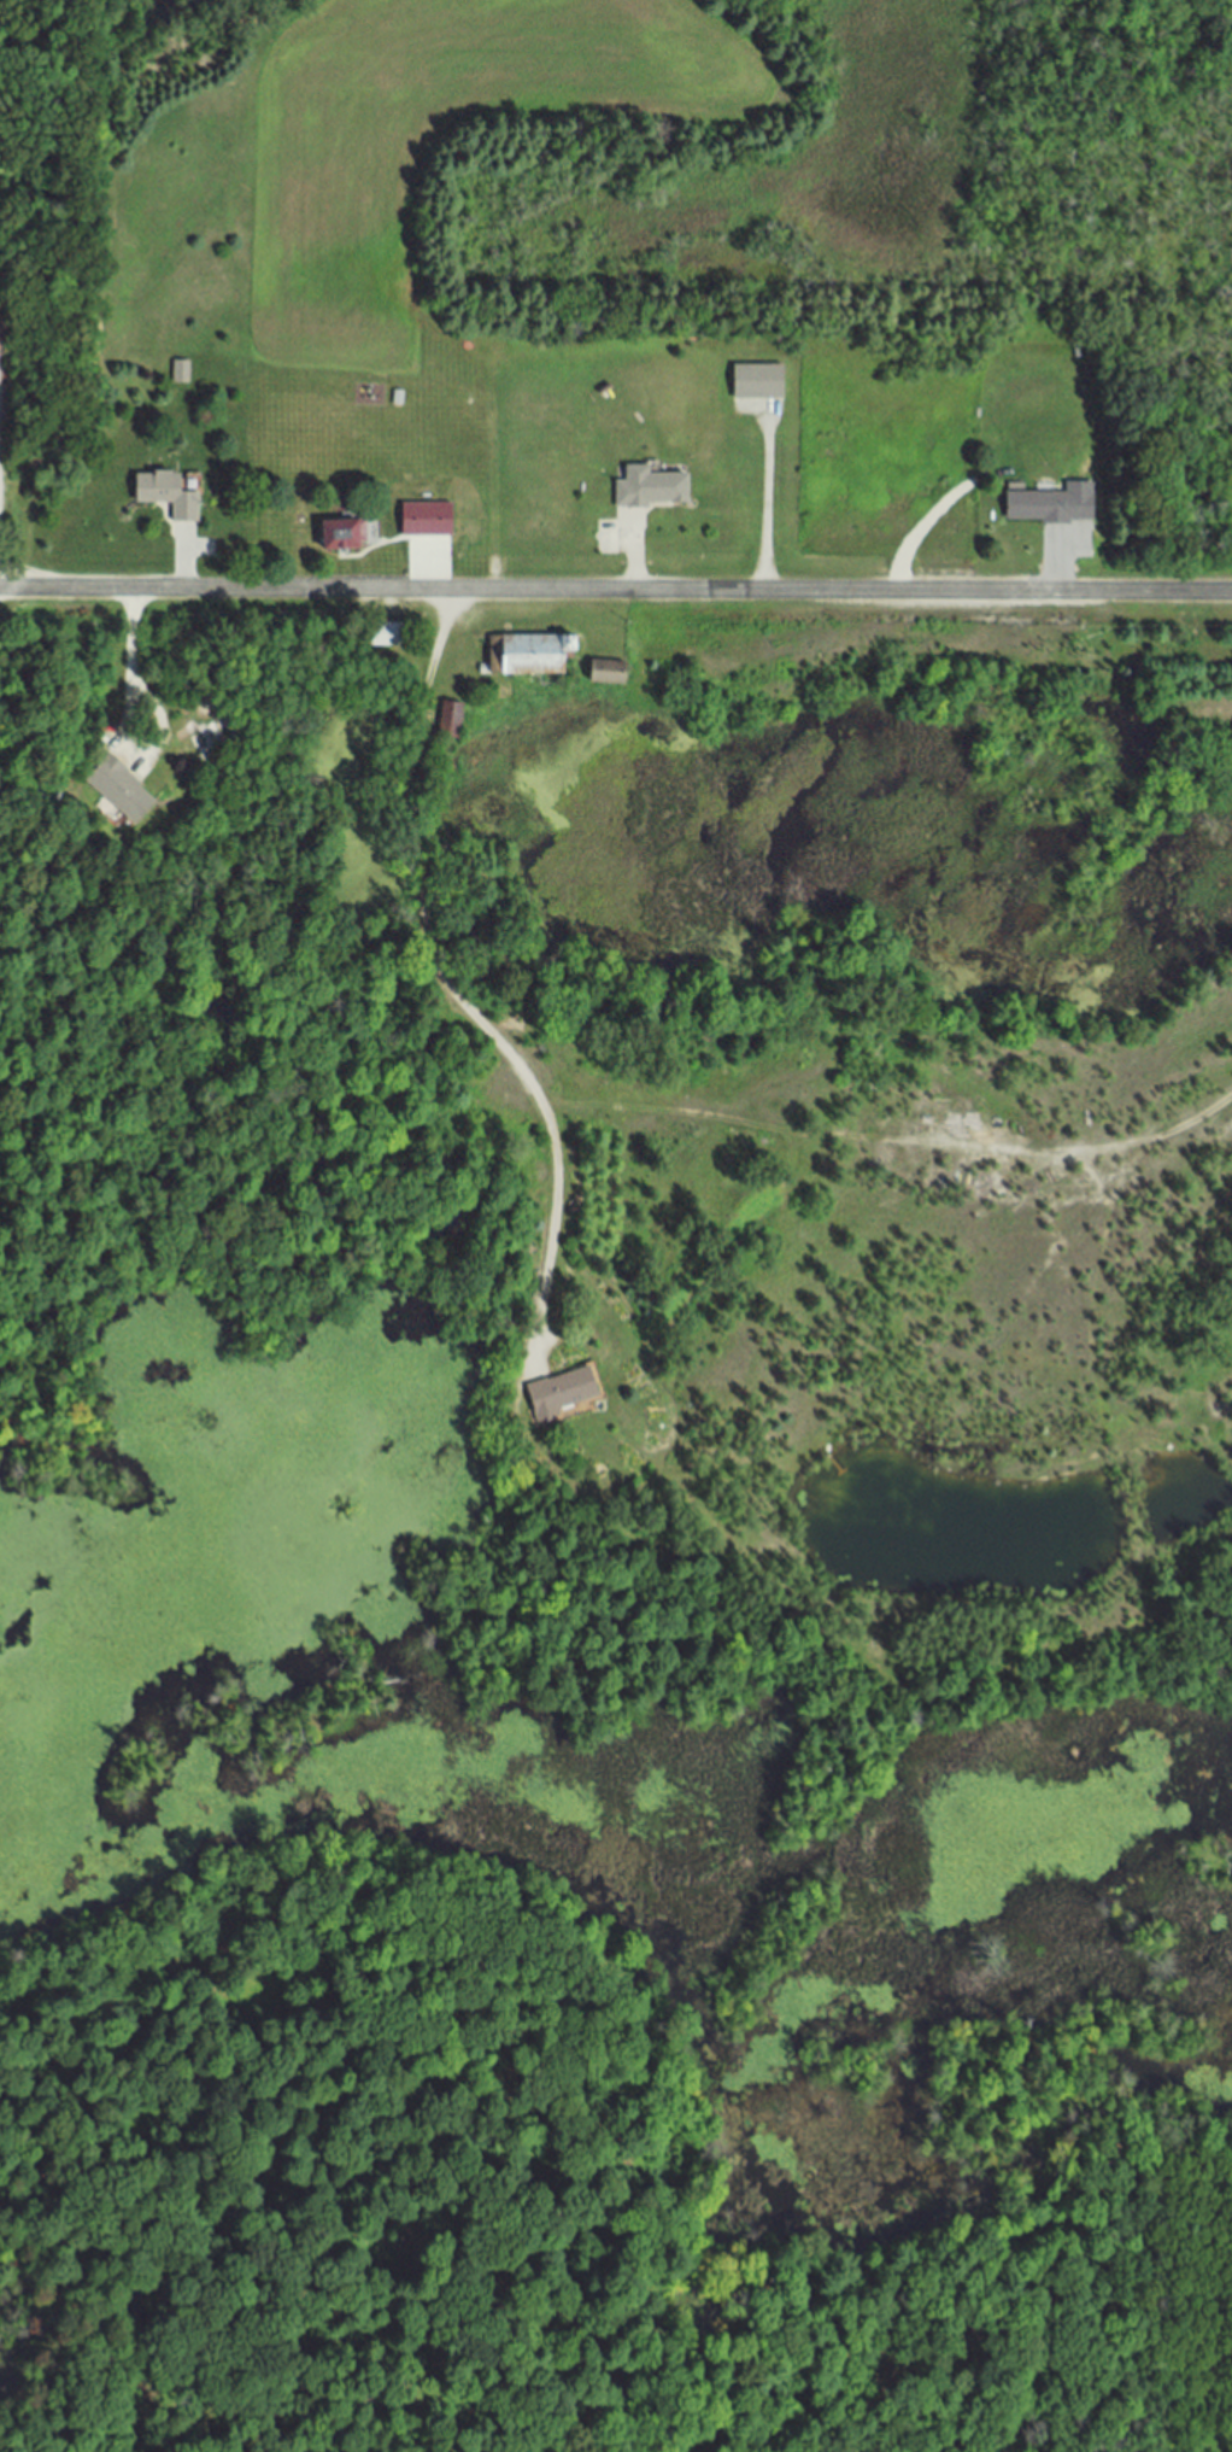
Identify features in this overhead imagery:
building: (1, 339)
building: (181, 374)
building: (758, 384)
building: (650, 490)
building: (168, 497)
road: (765, 505)
building: (1052, 507)
building: (426, 521)
building: (345, 537)
road: (632, 560)
road: (182, 566)
road: (428, 572)
road: (1050, 572)
road: (616, 591)
building: (387, 637)
building: (529, 655)
building: (608, 674)
building: (450, 721)
road: (123, 727)
building: (121, 792)
road: (444, 981)
building: (562, 1395)

